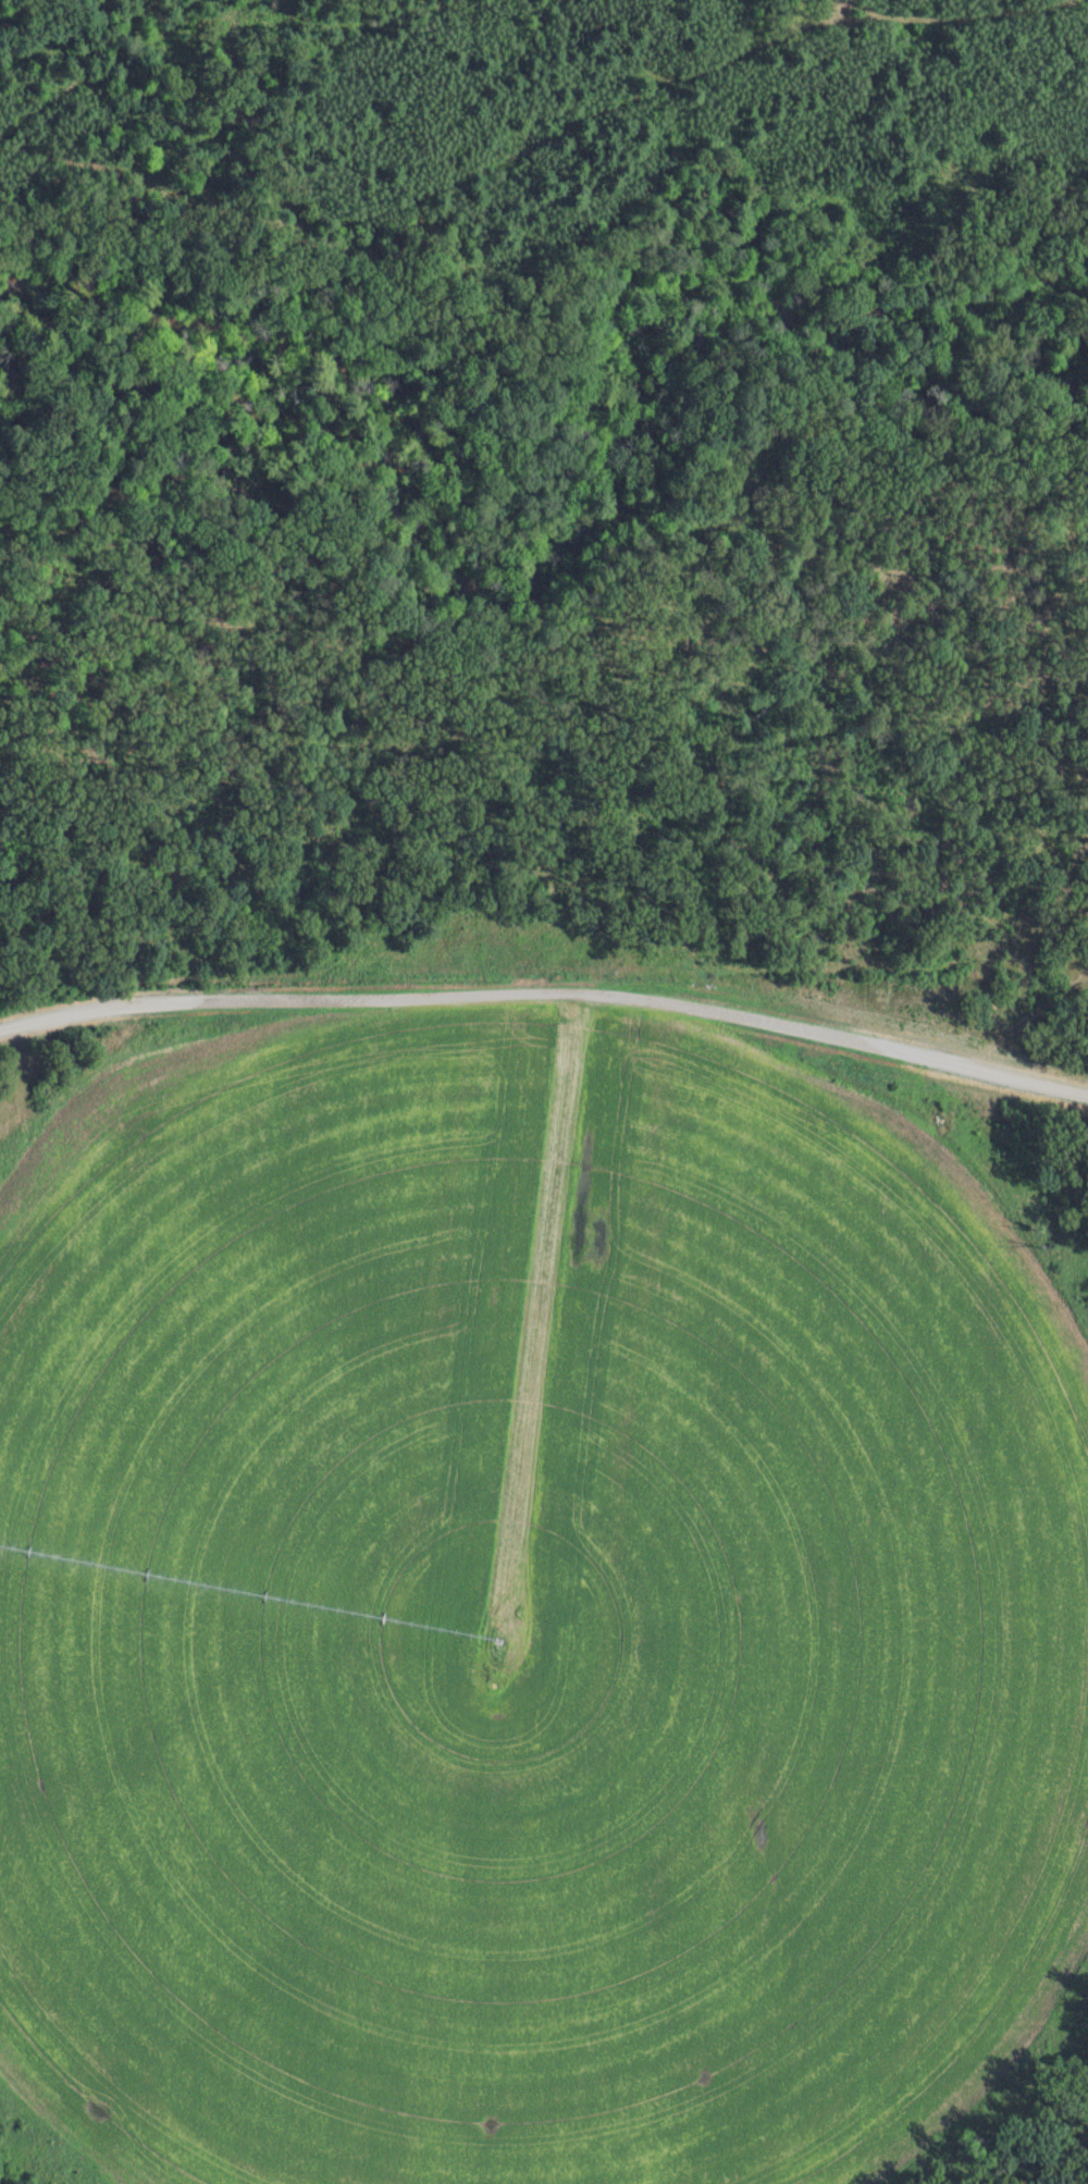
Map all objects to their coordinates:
road: (534, 146)
road: (572, 269)
road: (544, 646)
road: (639, 848)
road: (542, 986)
wastewater plant: (545, 1590)

